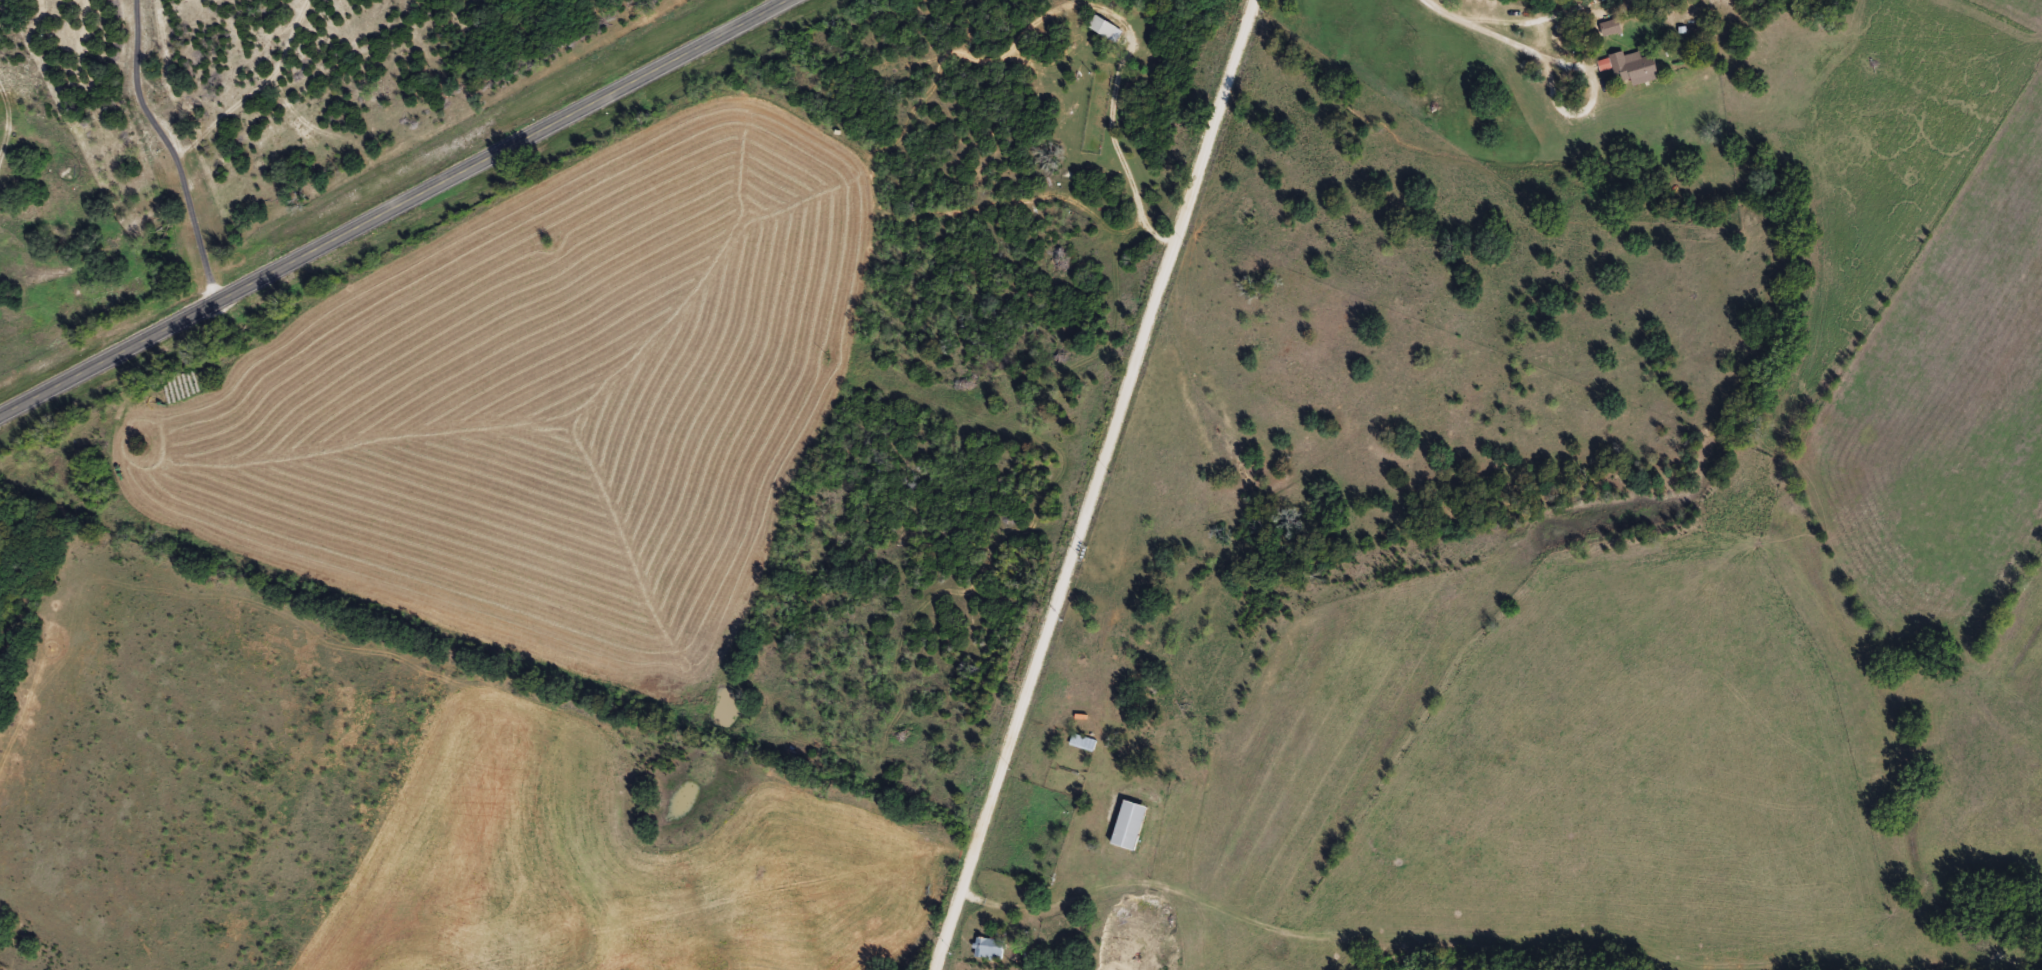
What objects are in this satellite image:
building: (1612, 29)
building: (1106, 31)
building: (1635, 70)
road: (393, 206)
road: (1102, 485)
building: (1085, 743)
building: (992, 946)

